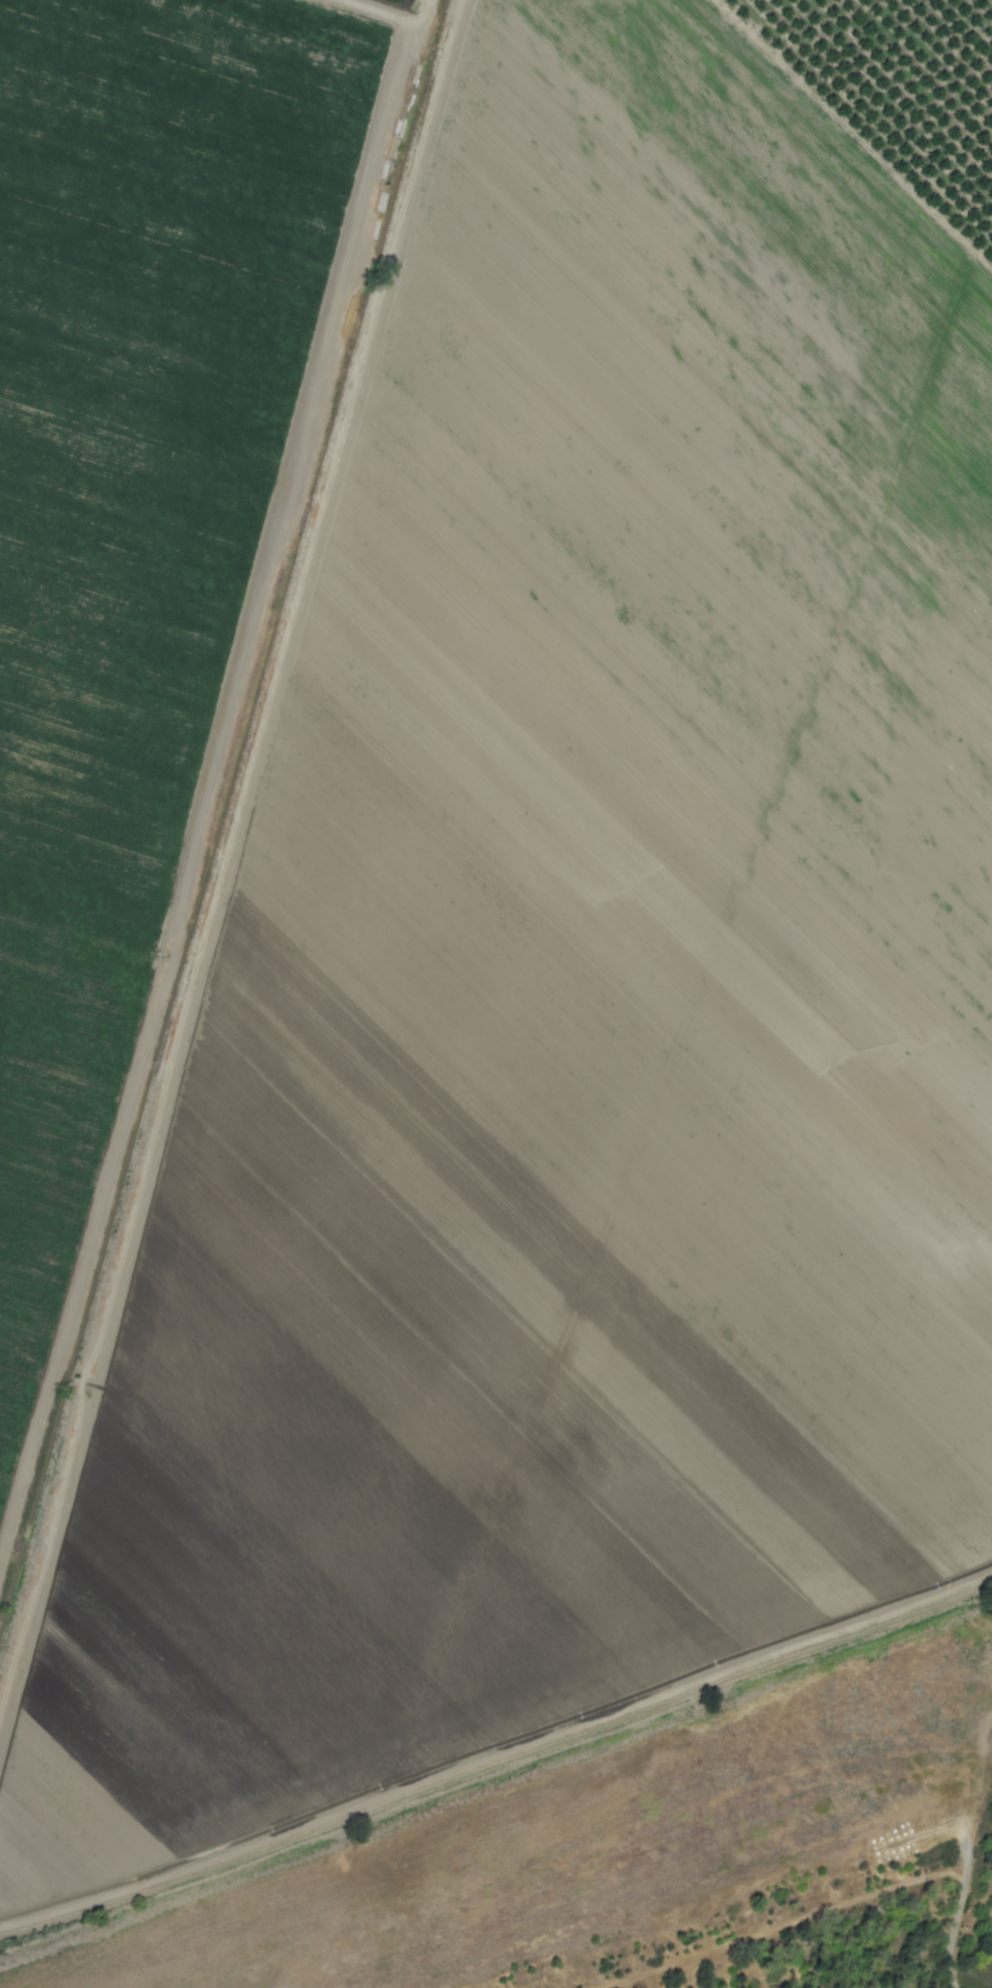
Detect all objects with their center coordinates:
crop: (478, 874)
road: (843, 1911)

